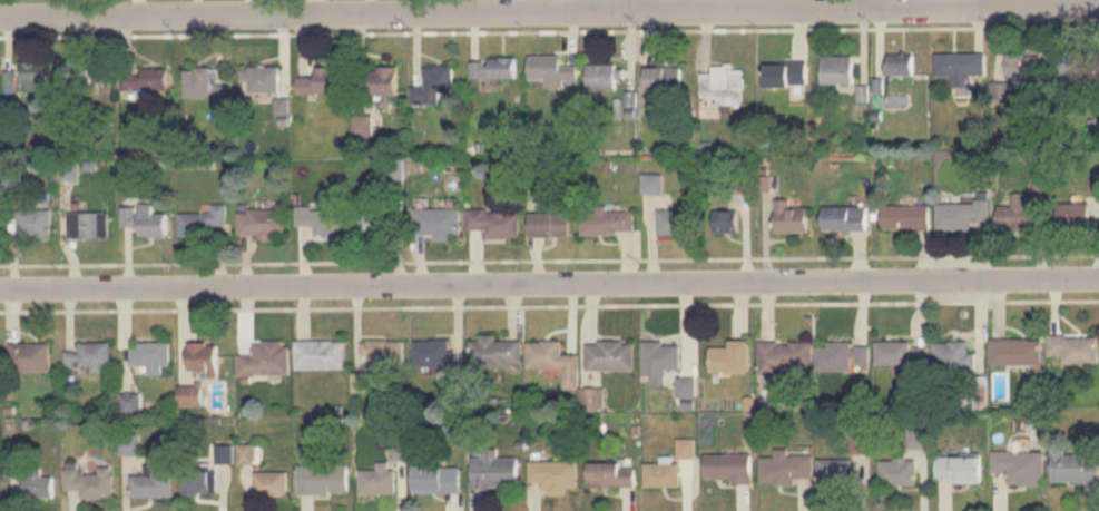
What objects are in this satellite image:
road: (616, 6)
road: (549, 12)
building: (901, 62)
building: (1075, 62)
building: (1021, 63)
building: (961, 65)
building: (492, 68)
building: (837, 68)
building: (553, 70)
building: (89, 72)
building: (787, 73)
building: (36, 75)
building: (602, 76)
building: (261, 77)
building: (665, 77)
building: (11, 79)
building: (145, 79)
building: (197, 80)
building: (320, 80)
building: (383, 80)
building: (433, 85)
building: (727, 85)
building: (1004, 90)
building: (652, 183)
building: (963, 213)
building: (1017, 213)
building: (1072, 214)
building: (793, 217)
building: (907, 217)
building: (846, 218)
building: (145, 220)
building: (322, 220)
building: (676, 220)
building: (204, 222)
building: (494, 222)
building: (608, 222)
building: (724, 222)
building: (37, 223)
building: (262, 223)
building: (438, 223)
building: (89, 225)
building: (374, 225)
building: (550, 225)
road: (549, 284)
building: (1076, 348)
building: (495, 352)
building: (1017, 352)
building: (433, 353)
building: (610, 353)
building: (902, 353)
building: (384, 354)
building: (150, 355)
building: (320, 355)
building: (786, 356)
building: (843, 356)
building: (953, 356)
building: (30, 357)
building: (90, 357)
building: (555, 357)
building: (732, 357)
building: (204, 358)
building: (265, 360)
building: (660, 360)
building: (687, 387)
building: (192, 396)
building: (129, 404)
building: (918, 438)
building: (245, 454)
building: (847, 465)
building: (1022, 466)
building: (1073, 466)
building: (728, 468)
building: (785, 468)
building: (960, 469)
building: (494, 471)
building: (899, 471)
building: (30, 473)
building: (663, 474)
building: (553, 475)
building: (610, 475)
building: (377, 478)
building: (322, 479)
building: (436, 479)
building: (154, 481)
building: (90, 482)
building: (199, 482)
building: (271, 484)

